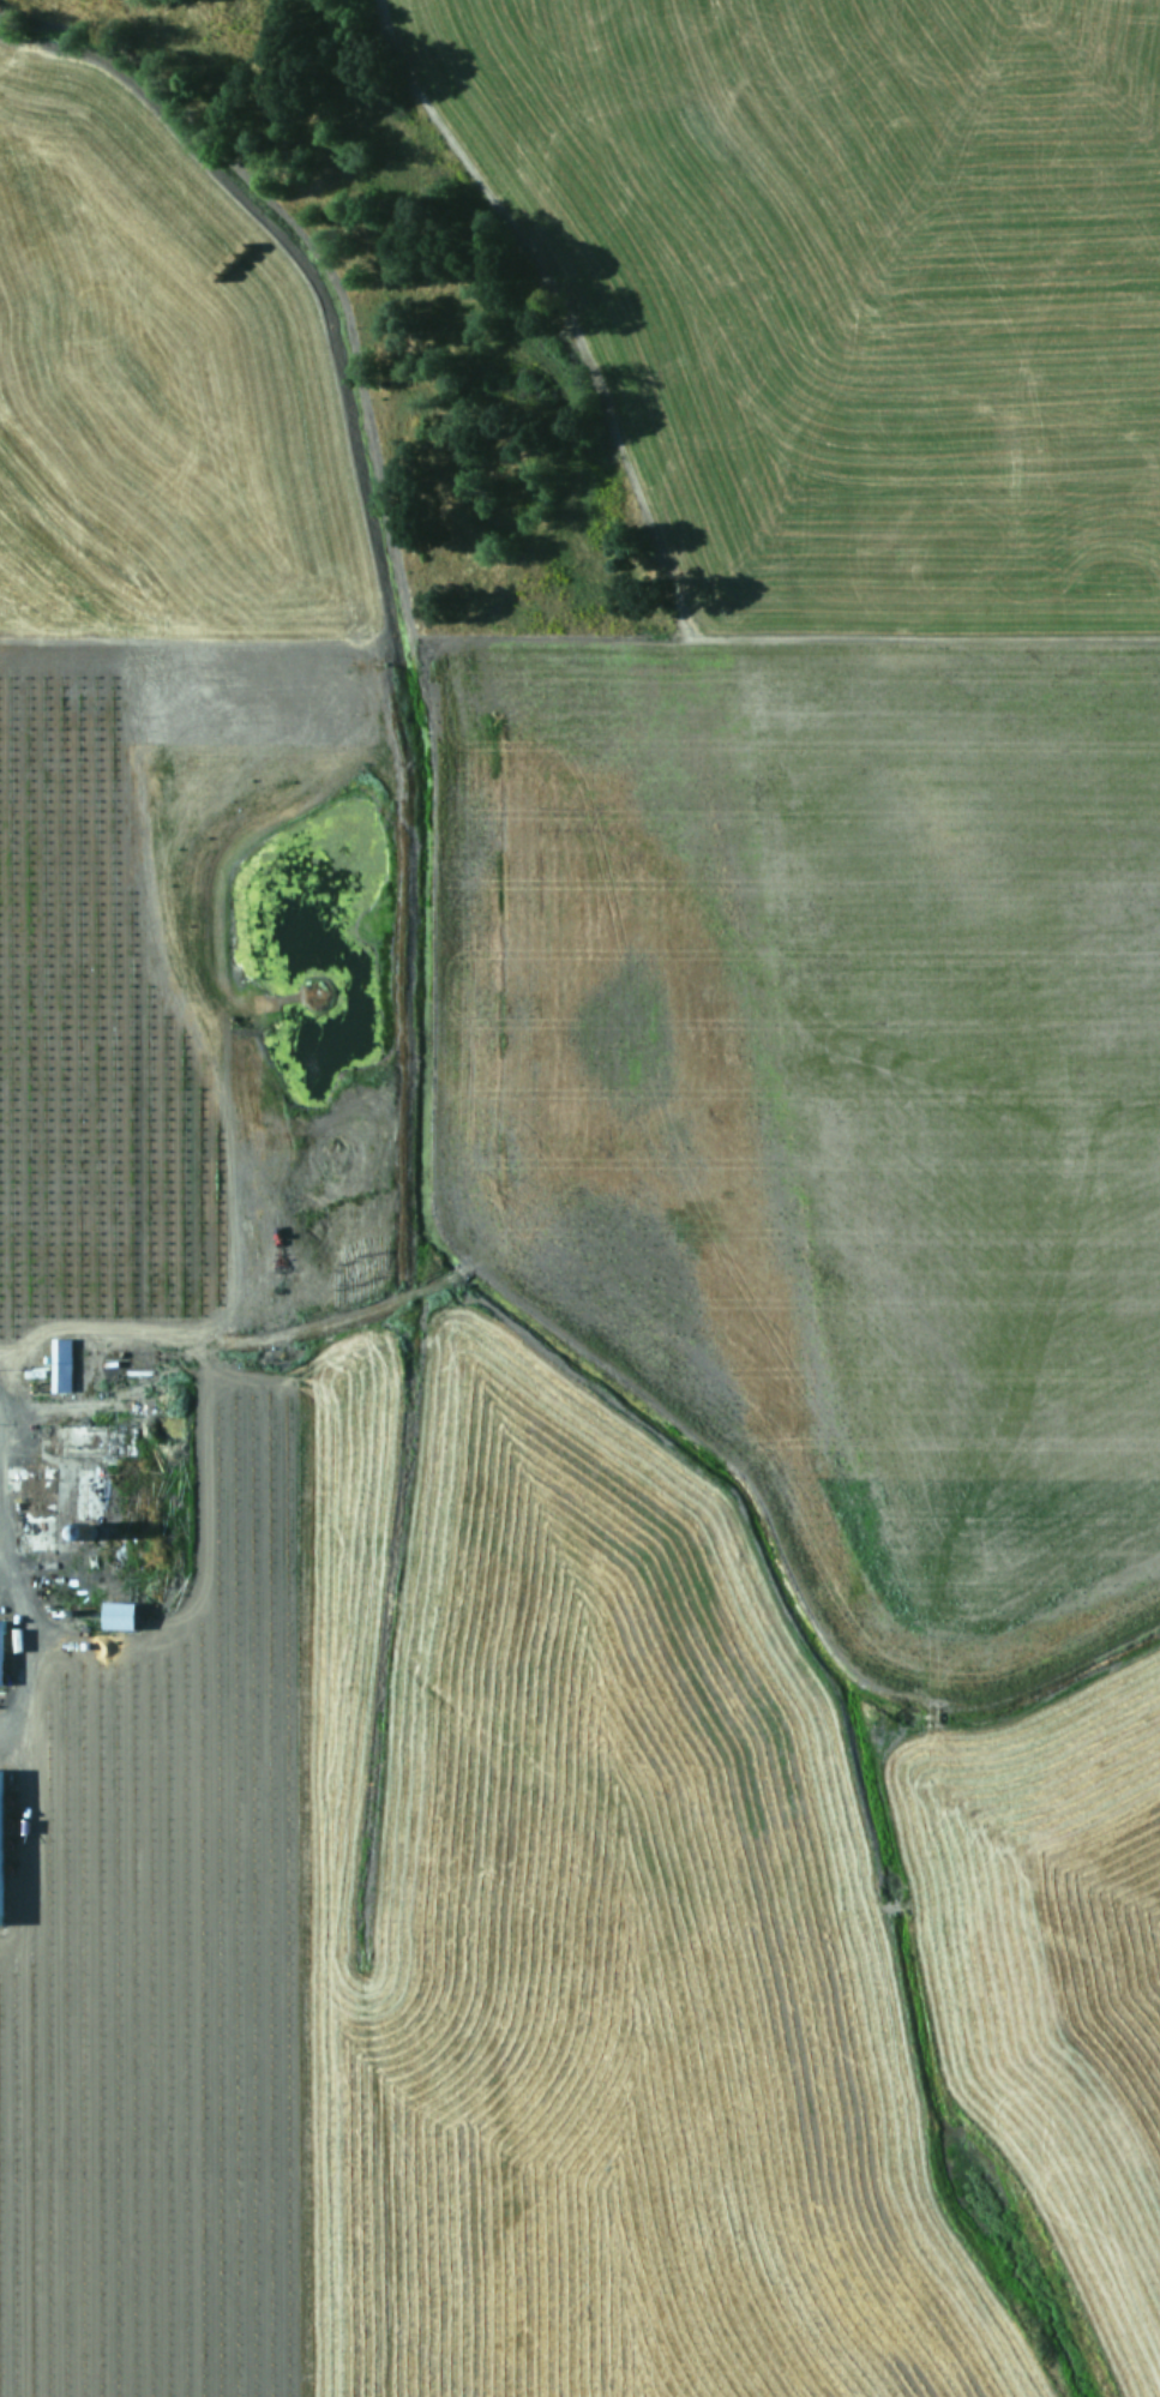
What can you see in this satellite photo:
crop: (595, 1266)
building: (60, 1364)
building: (118, 1615)
building: (0, 1654)
road: (13, 1662)

